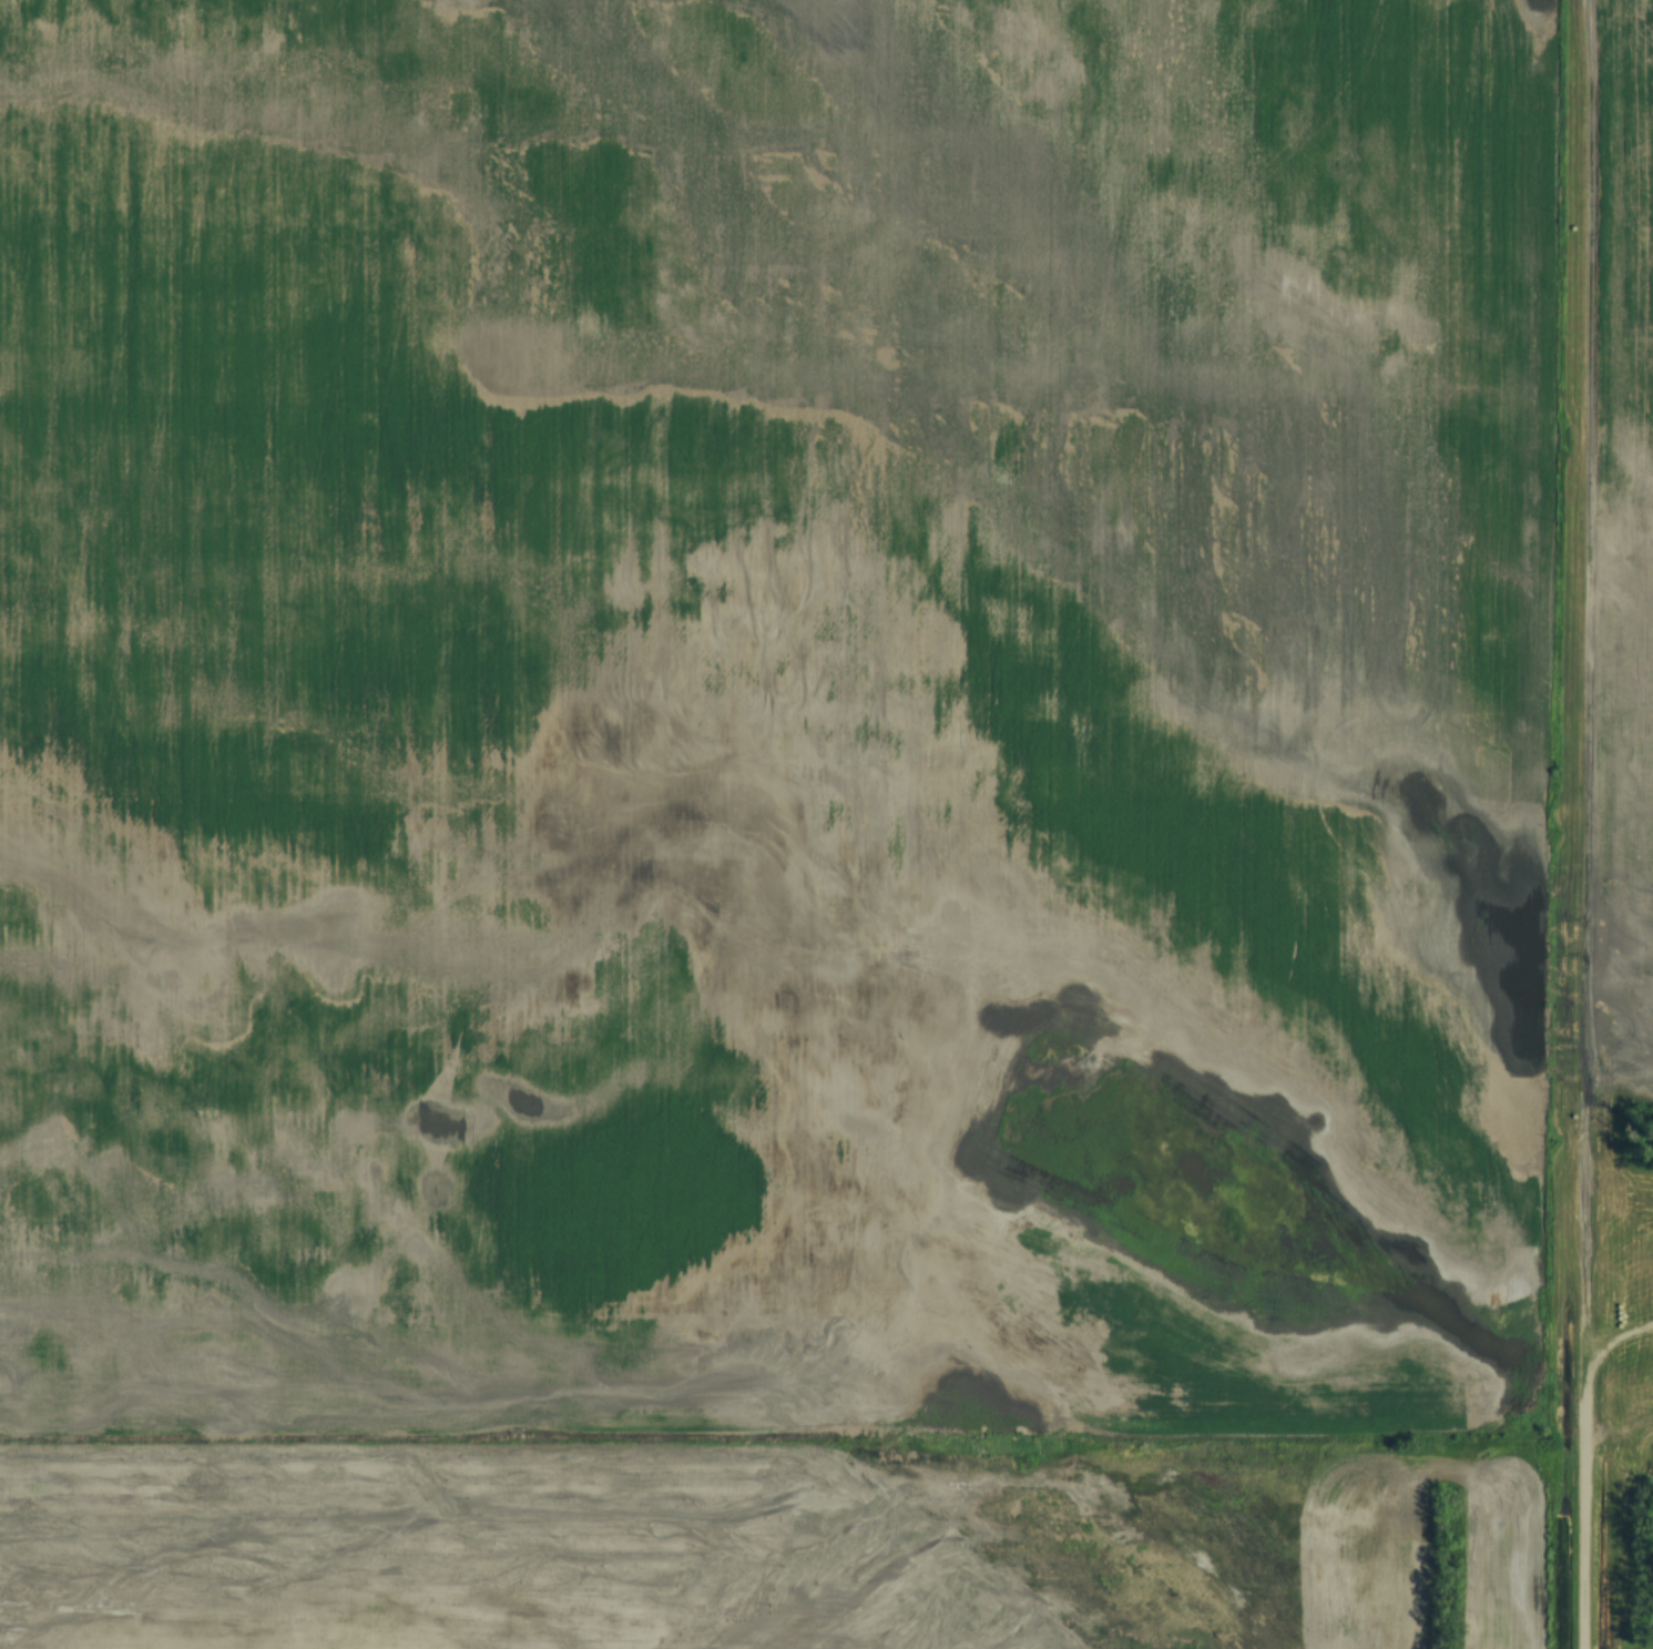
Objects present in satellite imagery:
road: (1572, 686)
road: (1615, 1342)
road: (1586, 1509)

